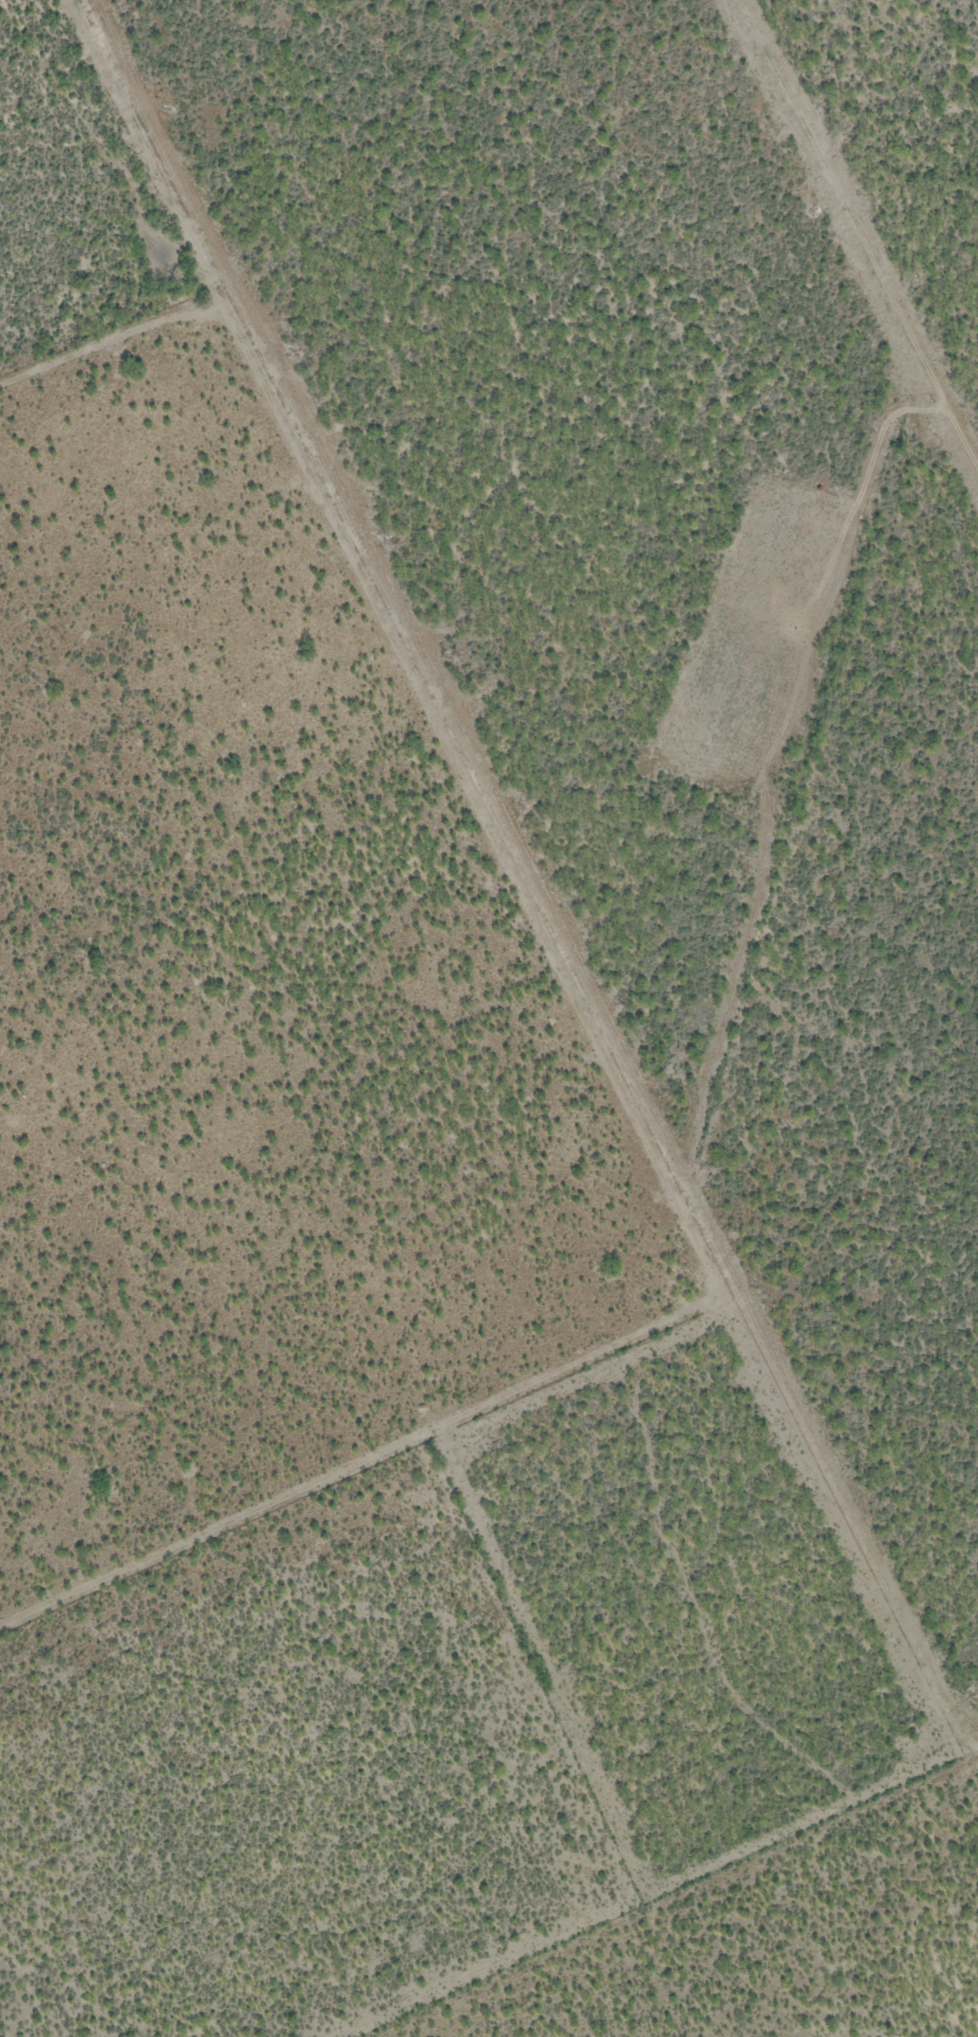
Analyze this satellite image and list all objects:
road: (842, 291)

